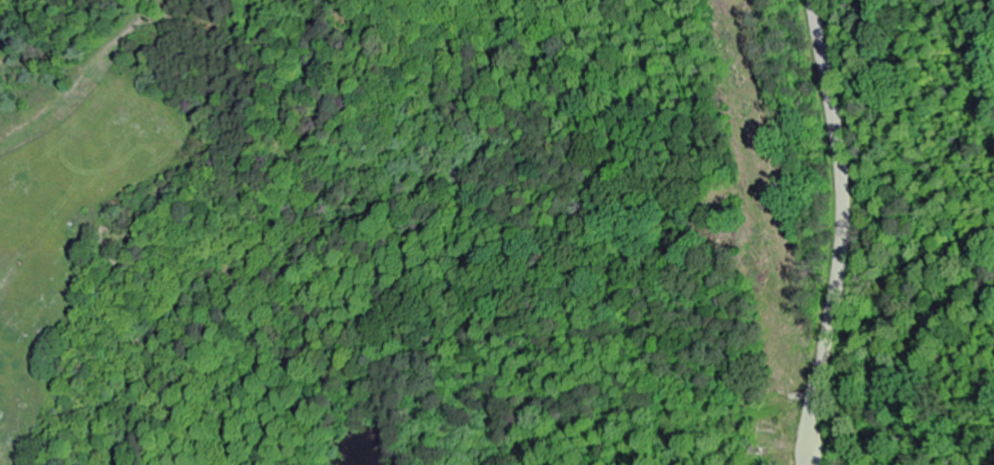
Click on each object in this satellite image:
road: (832, 233)

